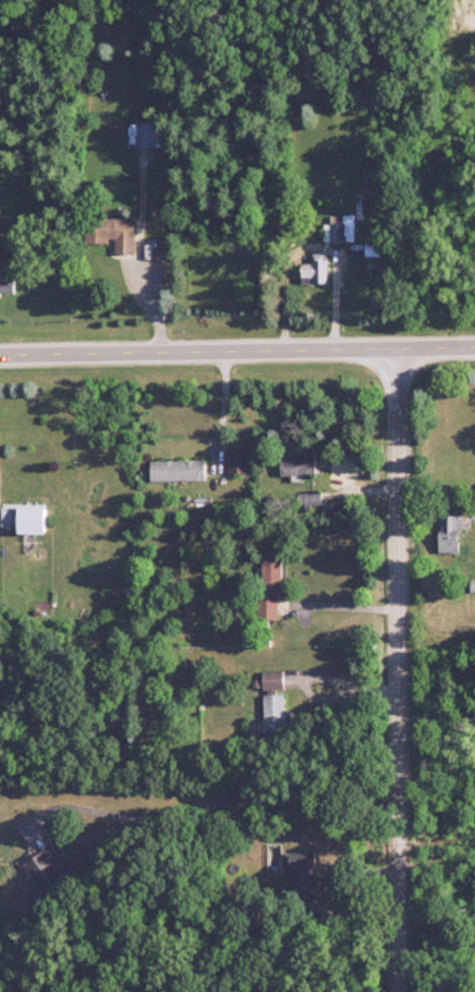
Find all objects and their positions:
building: (149, 134)
building: (341, 229)
building: (112, 233)
building: (314, 271)
building: (6, 287)
road: (331, 298)
road: (150, 311)
road: (237, 353)
road: (219, 409)
building: (236, 461)
building: (297, 464)
building: (177, 470)
building: (311, 499)
building: (449, 533)
building: (472, 586)
building: (270, 588)
road: (347, 607)
road: (402, 672)
road: (320, 677)
building: (273, 704)
road: (241, 800)
park: (439, 818)
building: (54, 872)
building: (301, 872)

